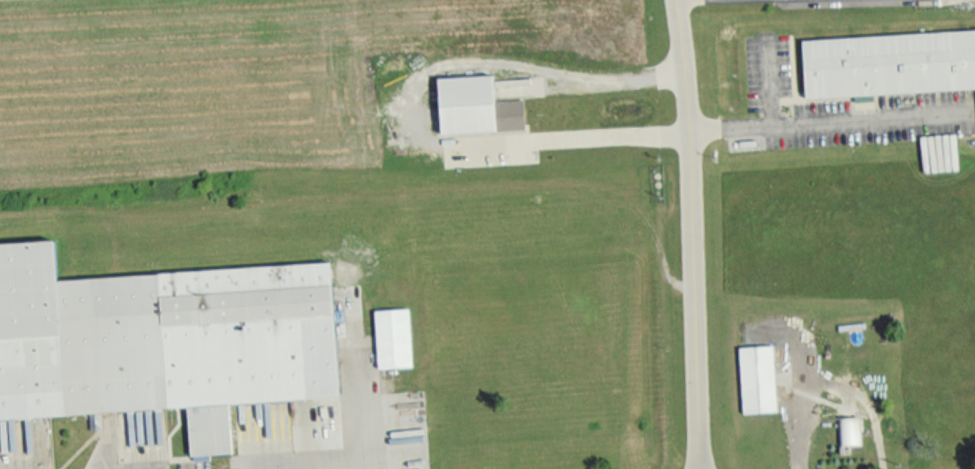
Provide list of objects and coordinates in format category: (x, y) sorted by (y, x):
building: (888, 63)
road: (768, 82)
building: (475, 105)
road: (418, 107)
road: (823, 120)
road: (690, 234)
building: (392, 337)
building: (162, 340)
building: (757, 378)
road: (362, 412)
building: (848, 430)

